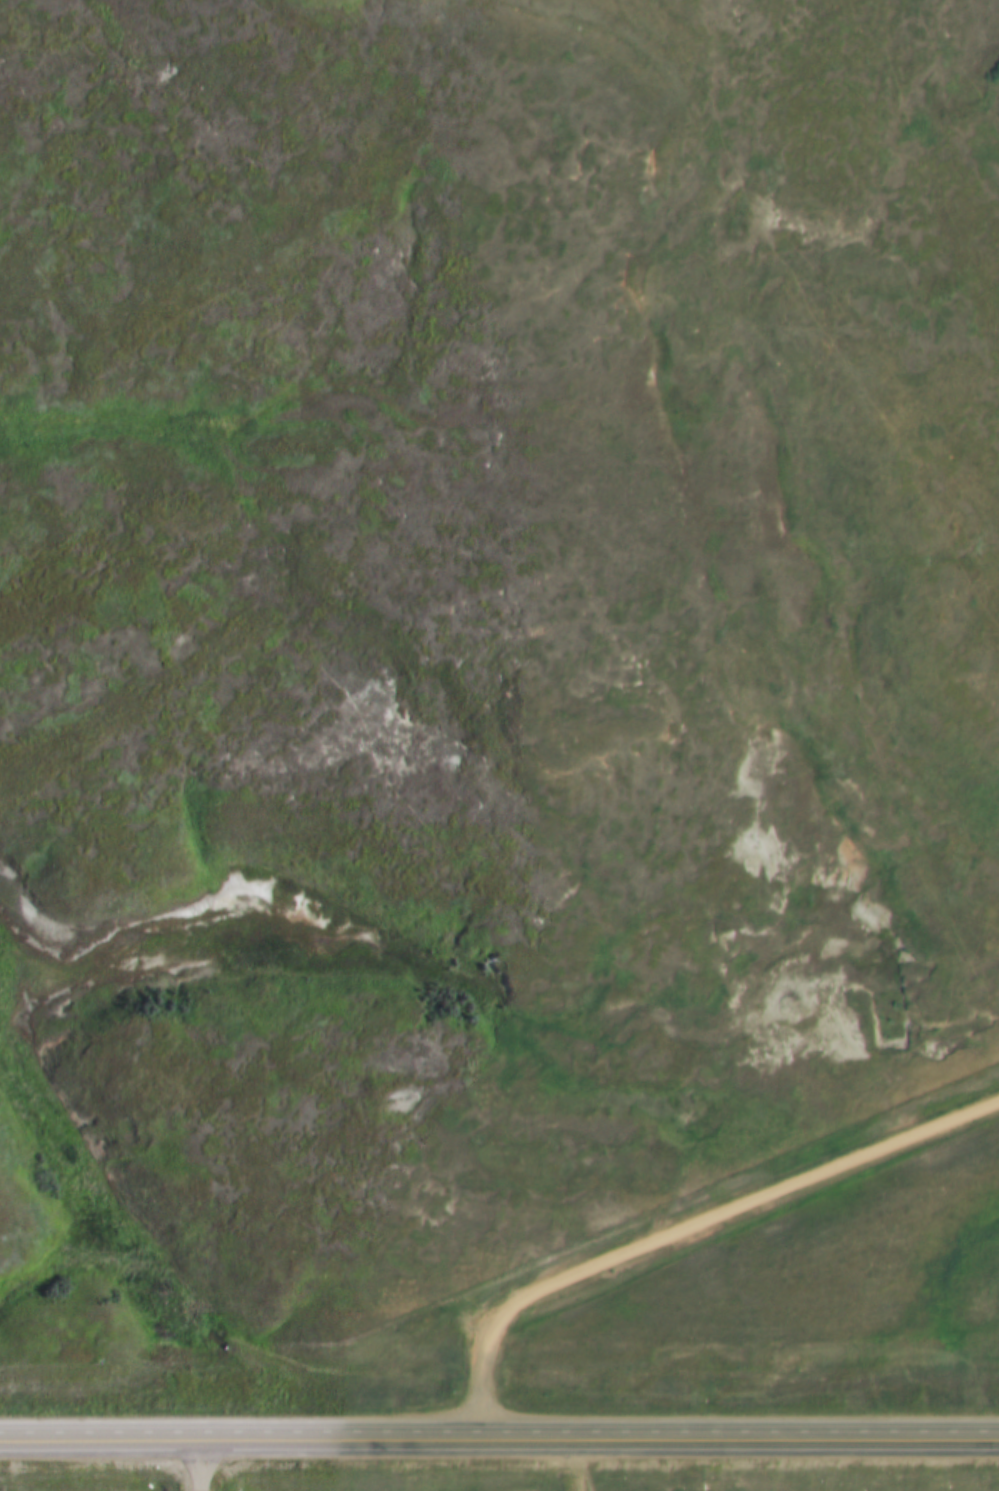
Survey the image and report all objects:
road: (682, 1228)
road: (499, 1443)
road: (202, 1465)

